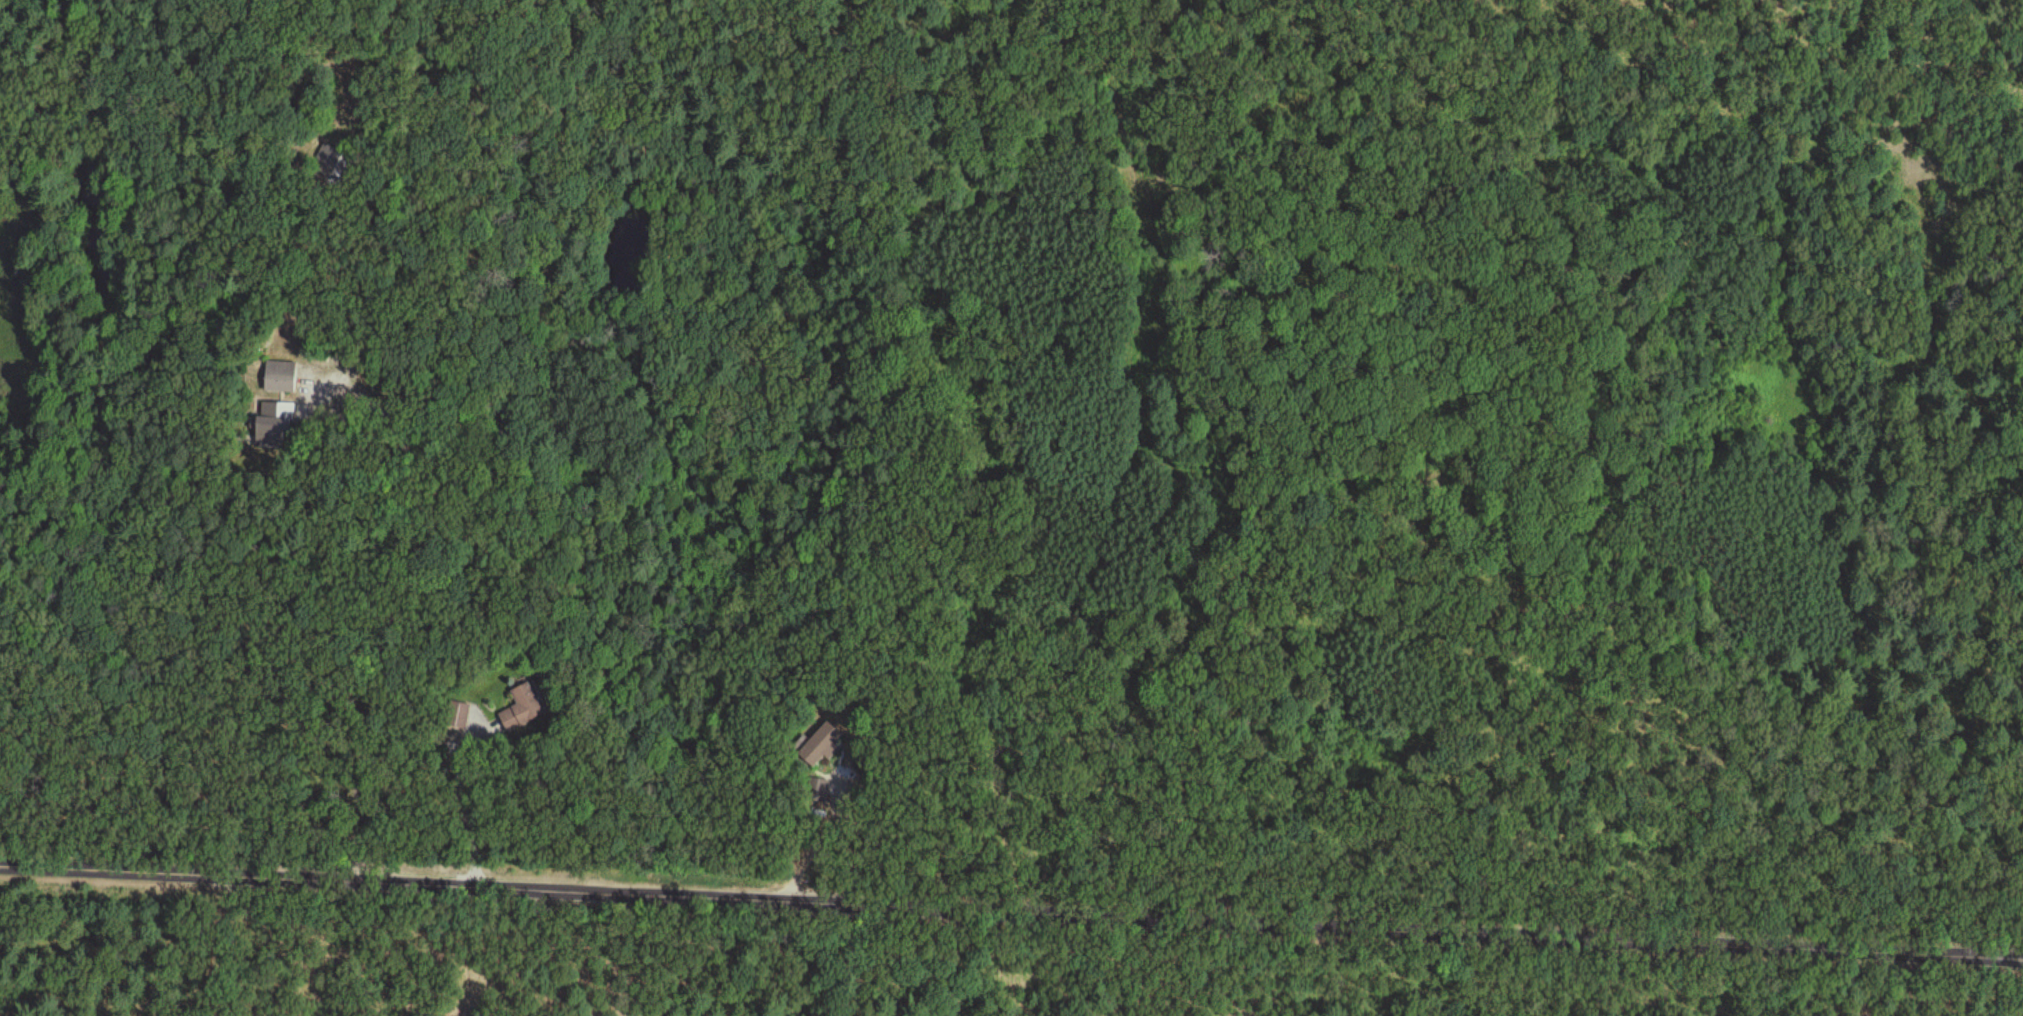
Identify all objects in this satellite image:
building: (333, 165)
building: (280, 378)
road: (421, 486)
road: (1237, 531)
building: (522, 710)
building: (459, 714)
road: (359, 742)
building: (818, 746)
road: (463, 799)
road: (819, 835)
road: (800, 890)
road: (1812, 940)
road: (219, 941)

